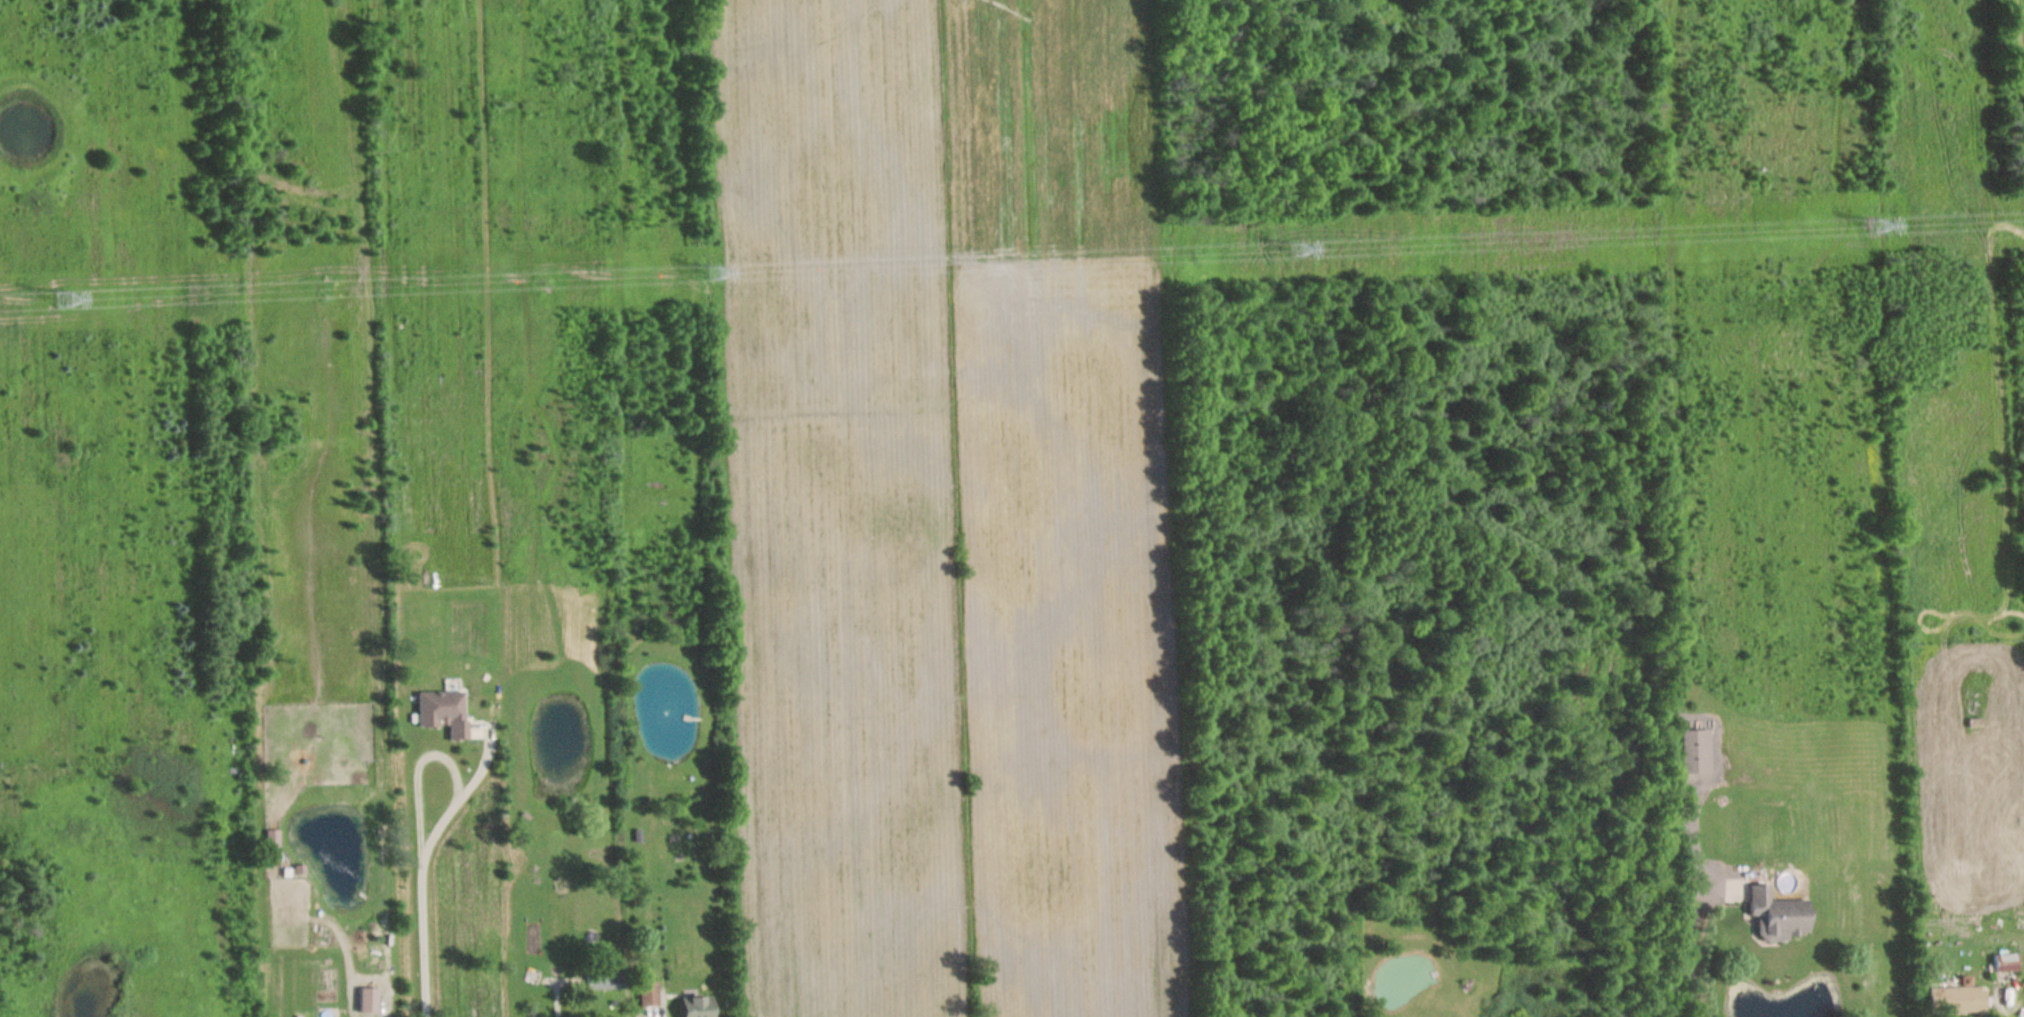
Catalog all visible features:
power tower: (1874, 224)
power tower: (1290, 253)
power tower: (706, 276)
power tower: (66, 301)
crop: (1063, 506)
crop: (834, 510)
building: (437, 713)
building: (1691, 752)
road: (419, 871)
building: (1772, 916)
road: (1687, 949)
building: (2021, 963)
building: (2000, 964)
building: (600, 982)
building: (644, 996)
building: (1952, 1001)
road: (2000, 1002)
building: (690, 1007)

